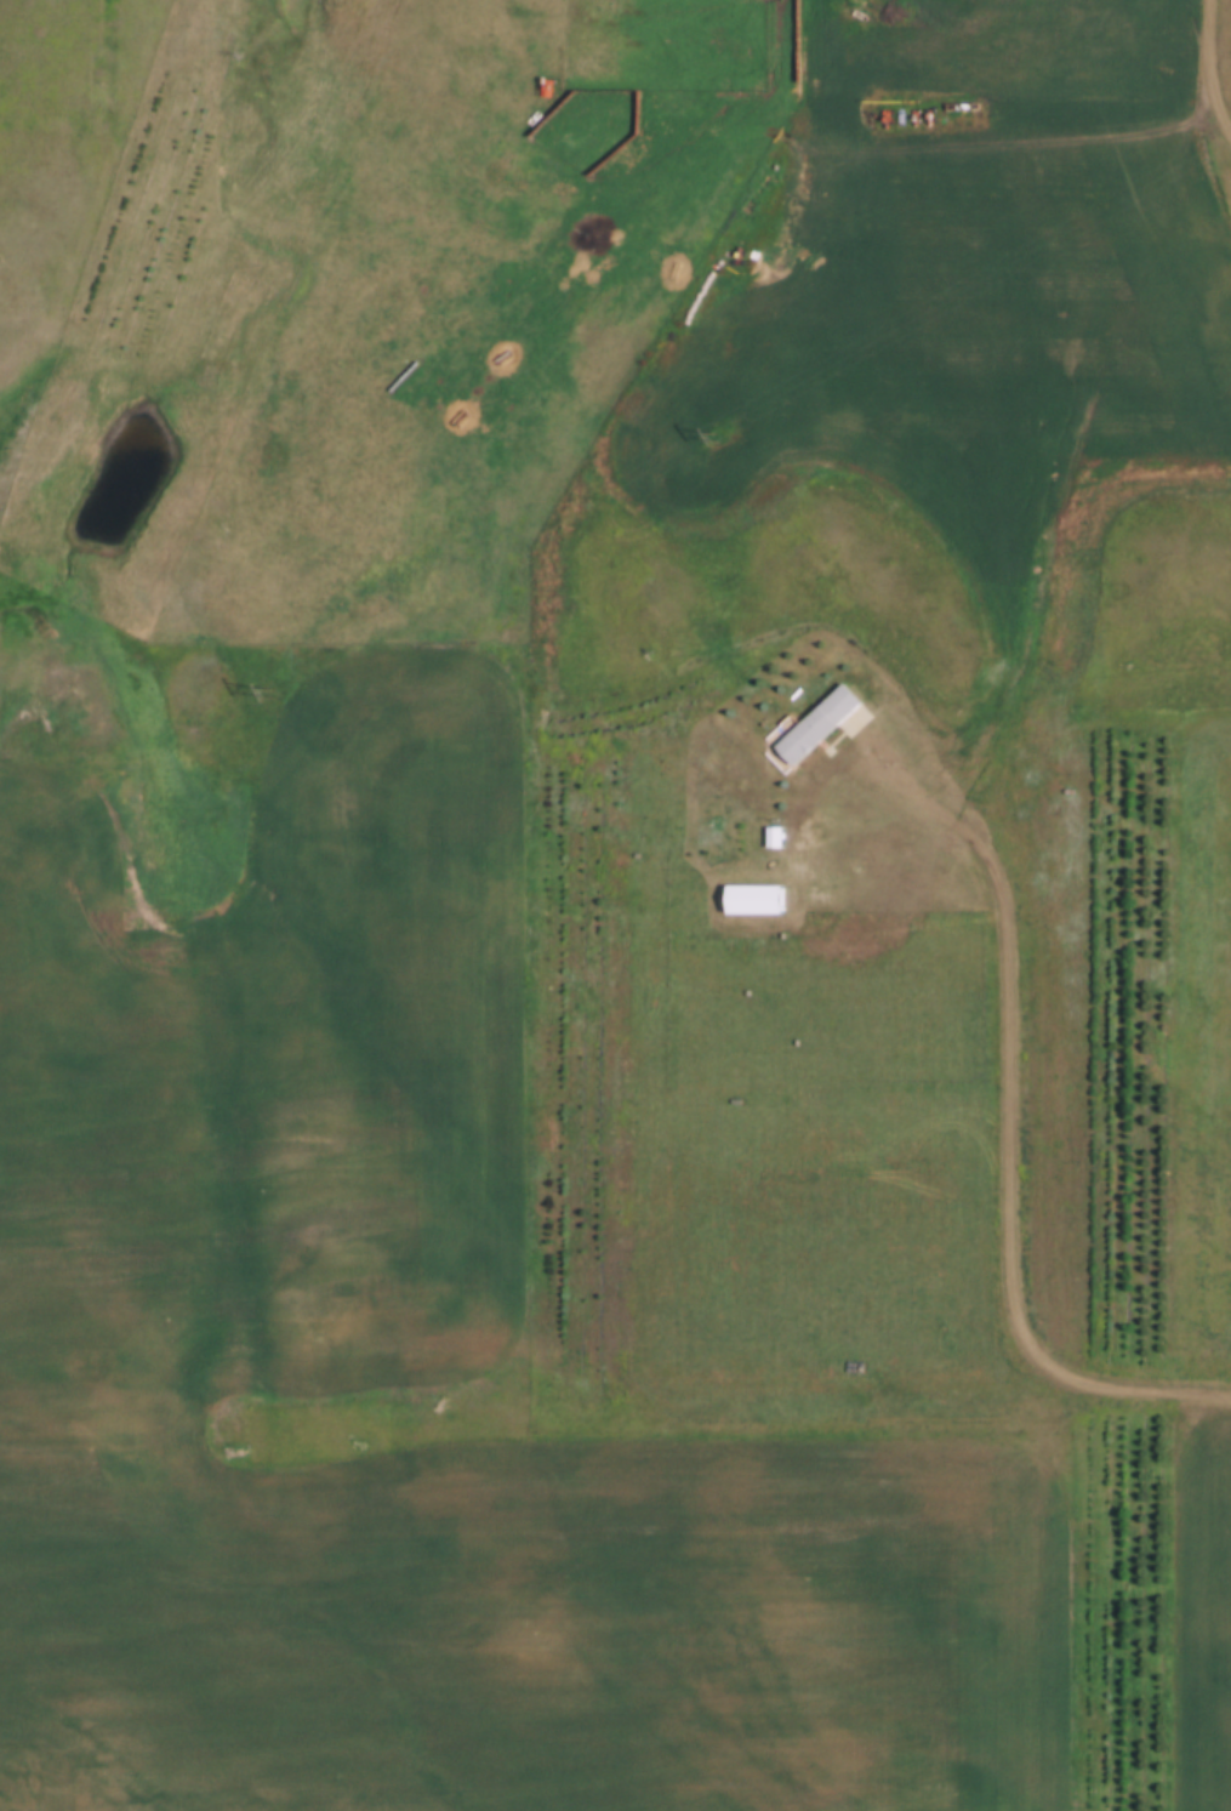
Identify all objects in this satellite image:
building: (822, 728)
building: (777, 839)

